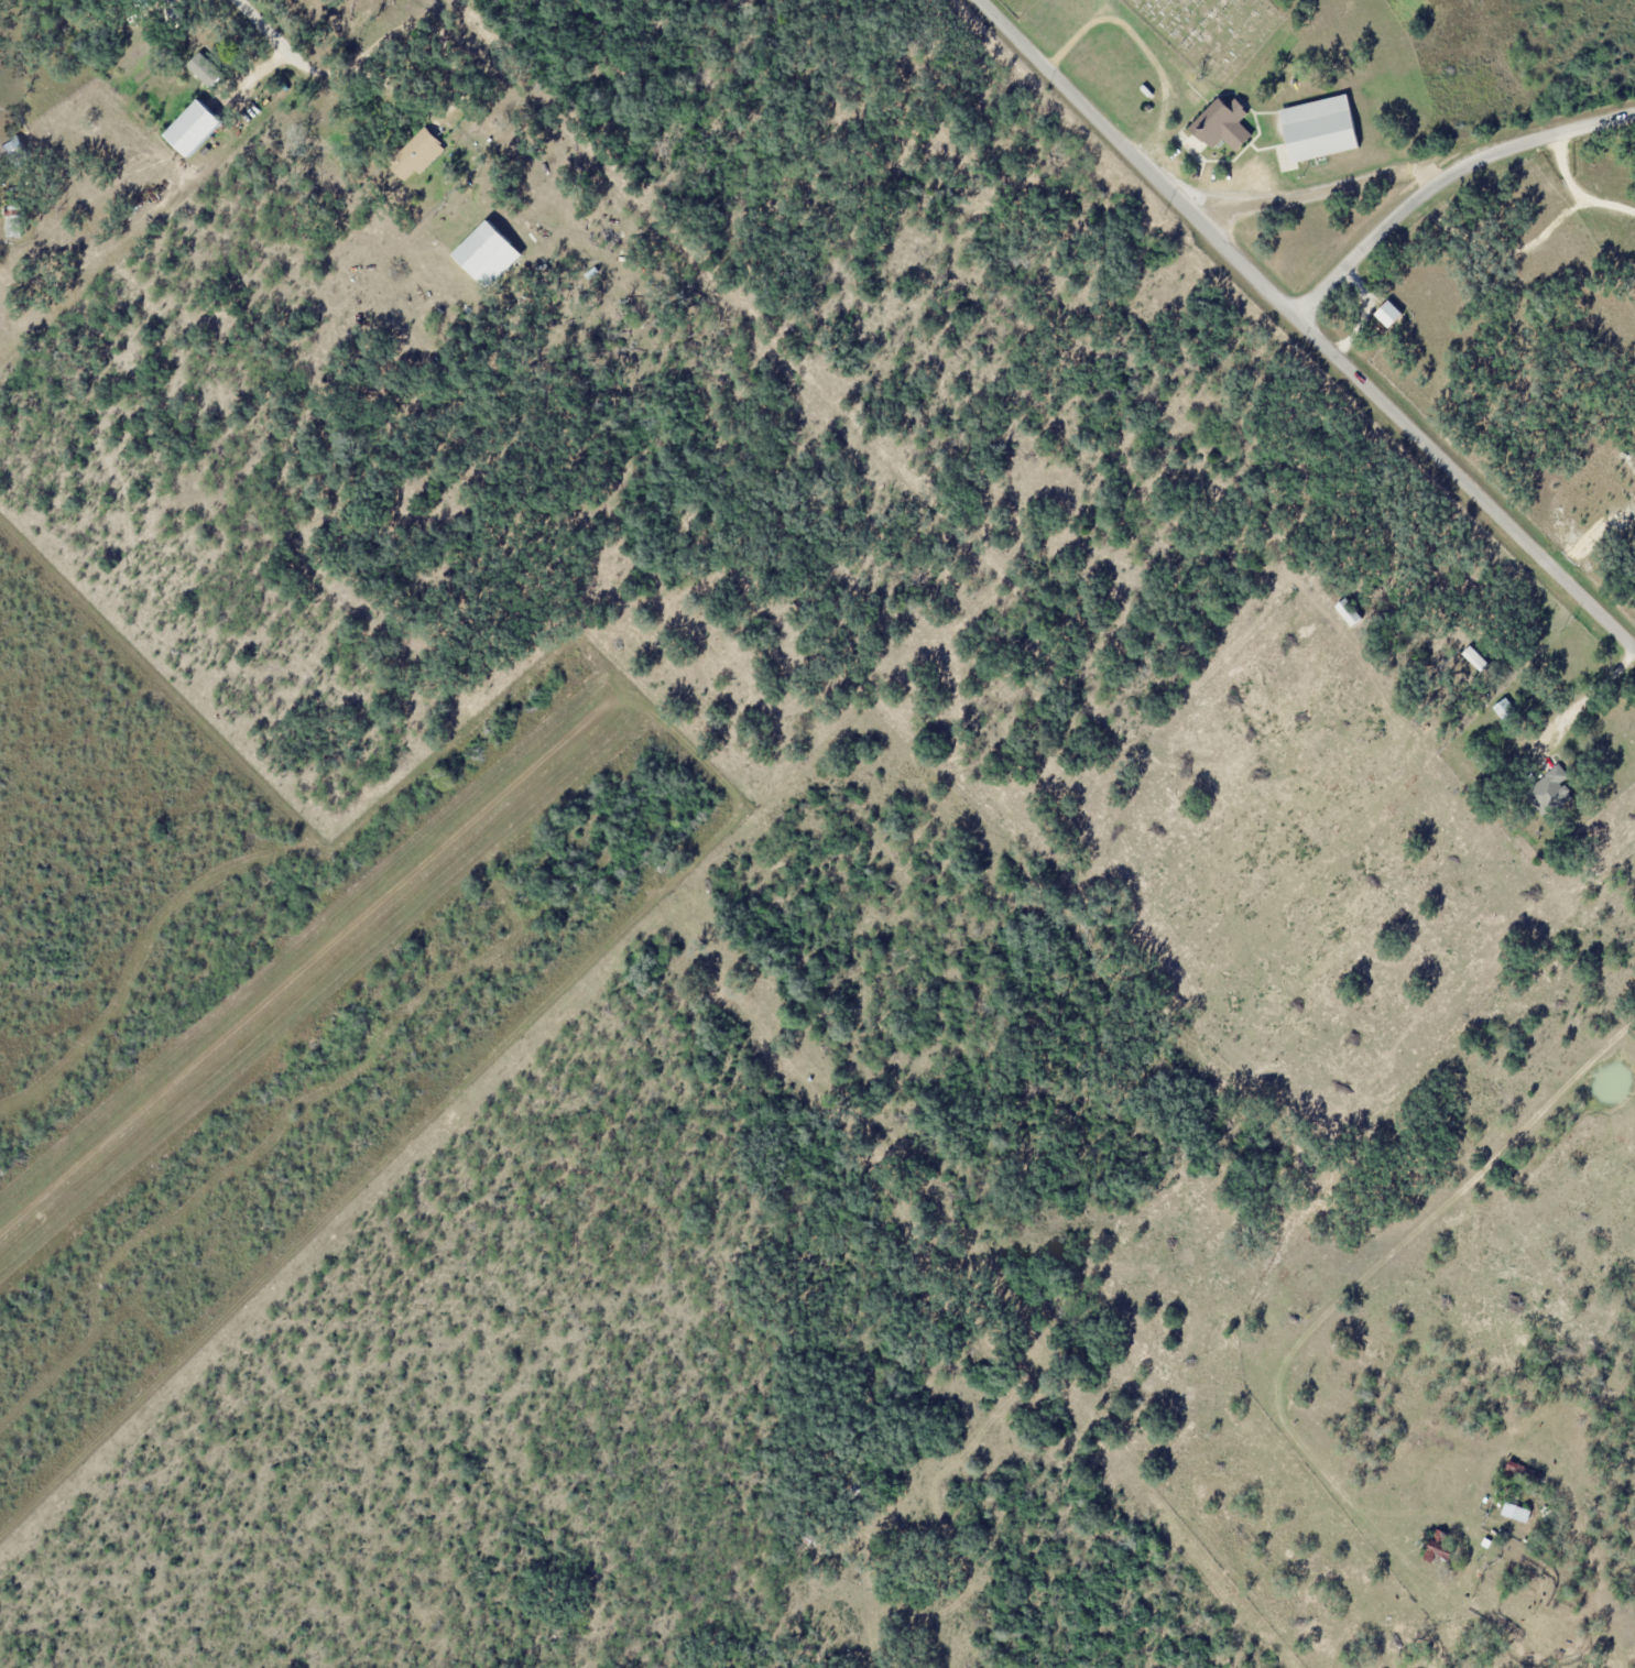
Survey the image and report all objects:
park: (1016, 6)
road: (270, 31)
park: (1211, 31)
building: (204, 67)
building: (1224, 126)
building: (1318, 127)
building: (192, 128)
building: (12, 148)
building: (415, 153)
road: (1415, 164)
road: (1393, 219)
building: (12, 220)
building: (487, 253)
building: (1386, 313)
road: (1305, 327)
building: (1348, 612)
building: (1474, 657)
building: (1548, 792)
road: (298, 972)
road: (1382, 1264)
building: (1520, 1472)
building: (1516, 1512)
building: (1439, 1549)
road: (879, 1661)

